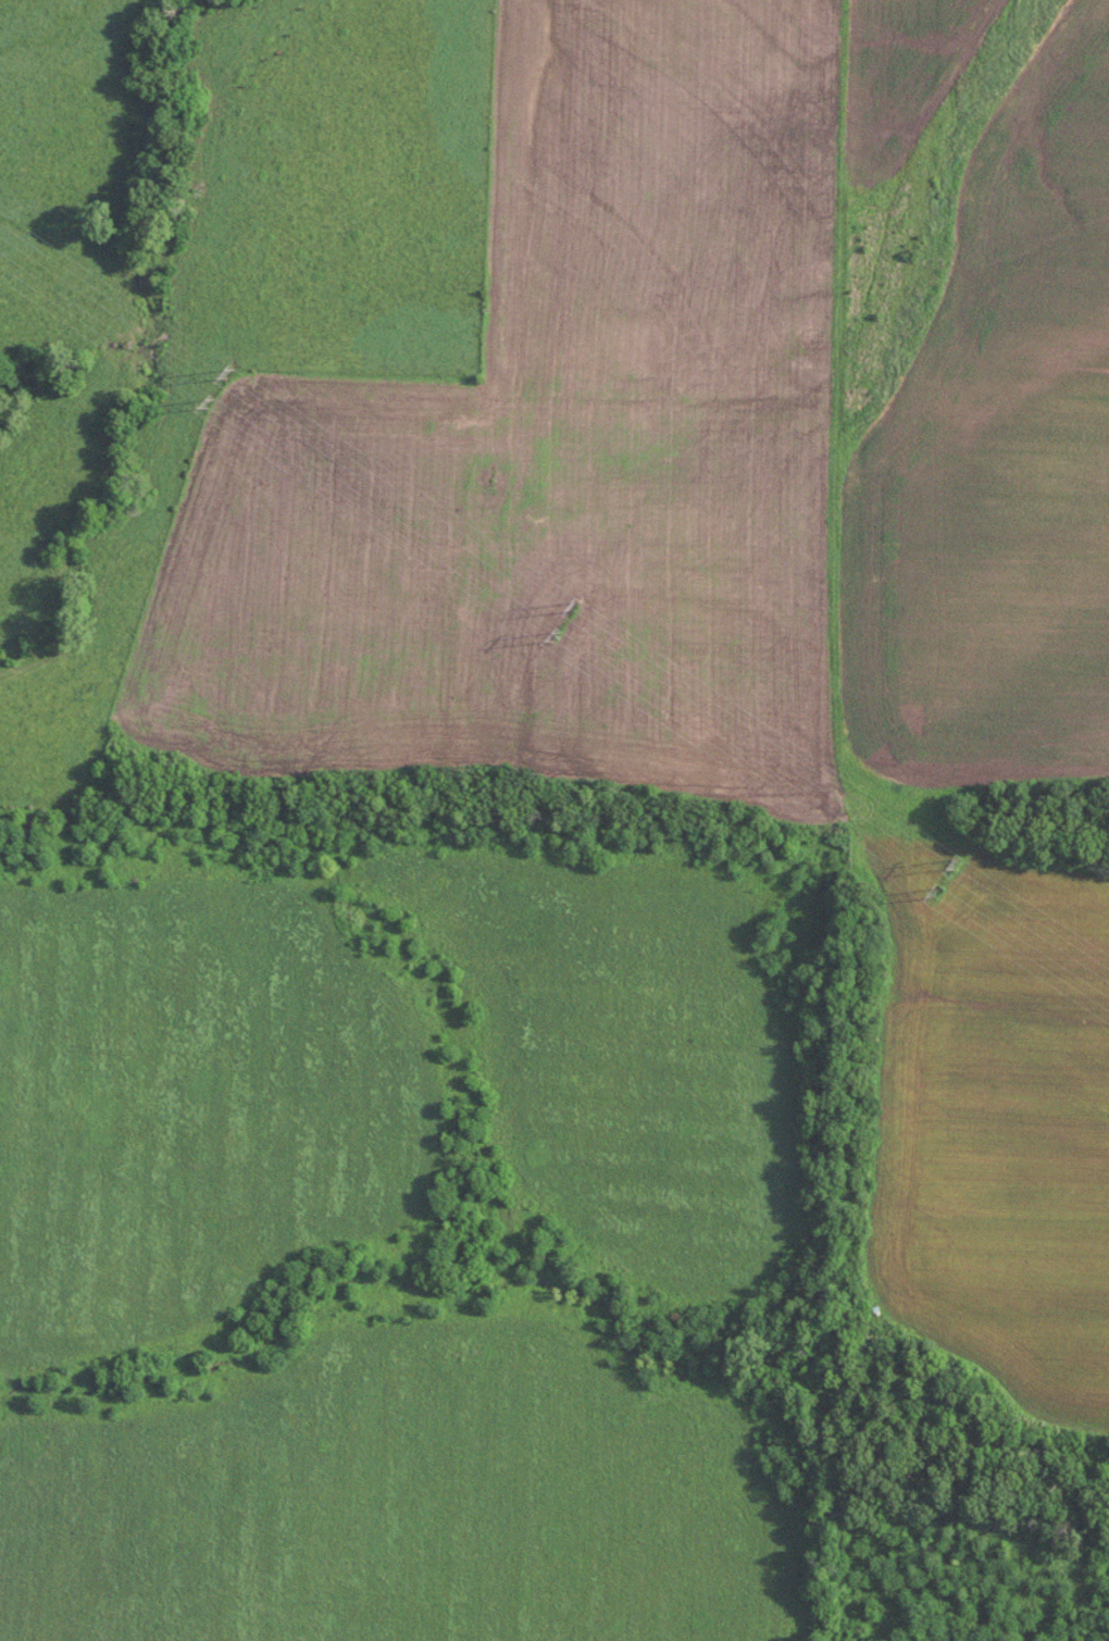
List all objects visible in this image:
power tower: (225, 374)
power tower: (207, 405)
power tower: (570, 607)
power tower: (551, 635)
power tower: (951, 865)
power tower: (925, 891)

